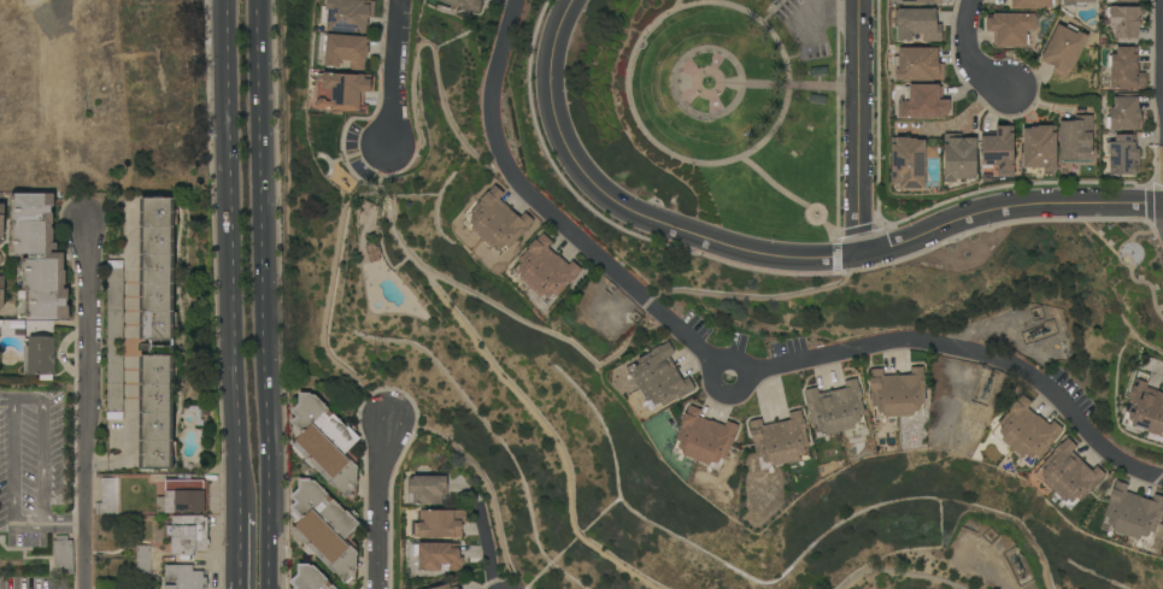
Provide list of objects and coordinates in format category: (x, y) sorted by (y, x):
building: (774, 1)
building: (921, 1)
building: (1127, 1)
road: (679, 2)
building: (1076, 2)
building: (465, 4)
building: (1032, 4)
road: (771, 11)
road: (826, 13)
building: (348, 14)
building: (1124, 23)
building: (917, 24)
building: (1011, 28)
parking lot: (803, 29)
building: (1064, 49)
building: (345, 51)
road: (435, 51)
road: (973, 55)
building: (917, 64)
building: (1124, 69)
road: (709, 70)
road: (395, 73)
road: (627, 75)
road: (789, 86)
building: (345, 88)
road: (675, 90)
road: (706, 94)
building: (923, 102)
park: (719, 110)
building: (1124, 113)
road: (836, 116)
road: (860, 126)
building: (1075, 139)
building: (1039, 148)
building: (933, 151)
building: (998, 151)
building: (1122, 155)
building: (959, 158)
building: (906, 160)
building: (1, 219)
road: (810, 219)
building: (497, 222)
road: (1122, 243)
building: (372, 252)
road: (231, 254)
road: (774, 254)
building: (37, 259)
building: (544, 270)
park: (1130, 273)
road: (1144, 282)
building: (1, 290)
road: (262, 294)
road: (474, 296)
petroleum well: (1039, 326)
building: (157, 332)
building: (114, 340)
building: (40, 357)
road: (337, 363)
road: (1159, 370)
road: (732, 376)
building: (658, 378)
petroleum well: (983, 385)
building: (897, 394)
road: (14, 400)
road: (83, 408)
building: (835, 410)
building: (1144, 410)
building: (1026, 431)
building: (704, 440)
building: (780, 441)
building: (324, 443)
parking lot: (30, 466)
building: (1068, 475)
building: (425, 489)
building: (107, 497)
building: (183, 497)
road: (377, 501)
building: (1132, 514)
building: (440, 524)
road: (63, 525)
building: (324, 529)
building: (188, 535)
road: (239, 546)
building: (63, 555)
building: (437, 556)
building: (142, 559)
petroleum well: (1018, 560)
road: (900, 573)
building: (184, 577)
building: (310, 578)
parking lot: (36, 583)
road: (237, 585)
building: (447, 585)

